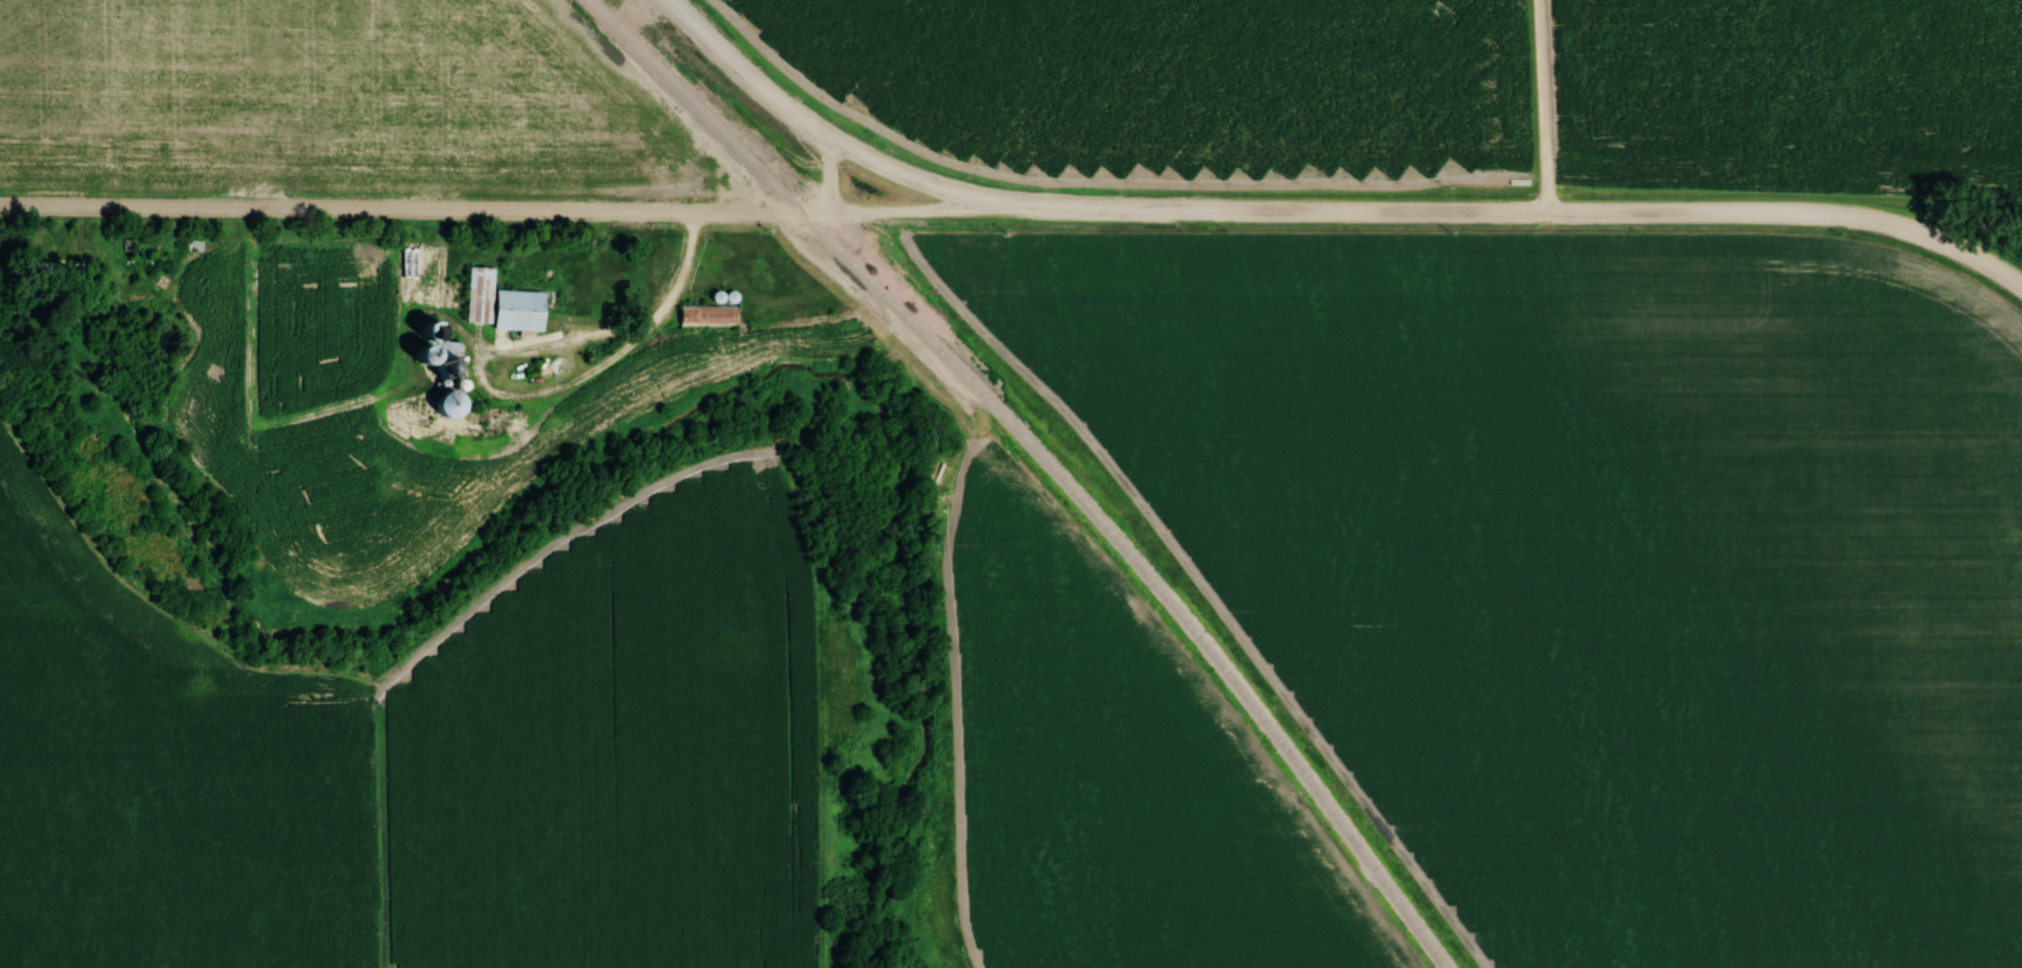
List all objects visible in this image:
road: (1546, 108)
road: (823, 138)
road: (830, 178)
road: (1444, 214)
road: (512, 215)
building: (192, 245)
road: (1946, 246)
building: (497, 303)
building: (704, 313)
road: (620, 360)
railway: (1066, 447)

